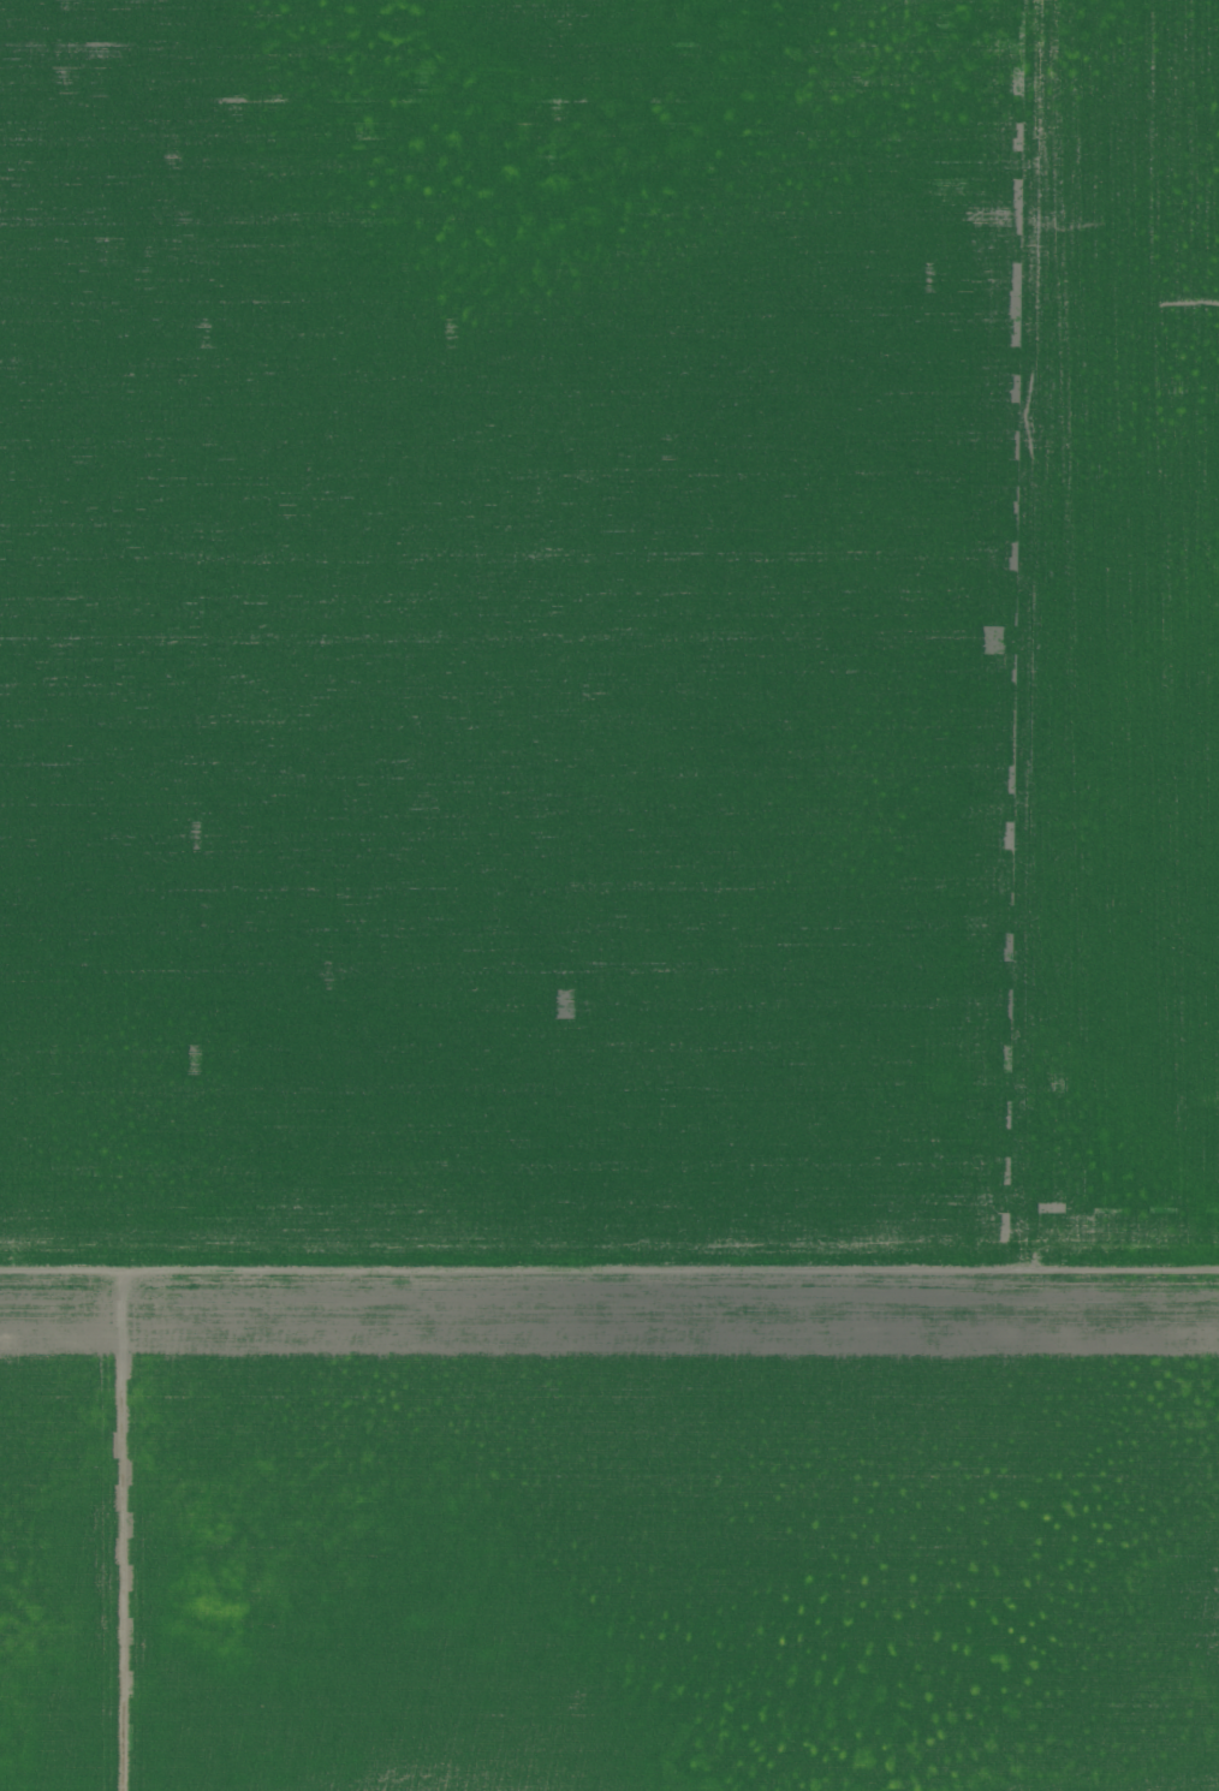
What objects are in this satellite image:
road: (609, 1263)
road: (118, 1530)

